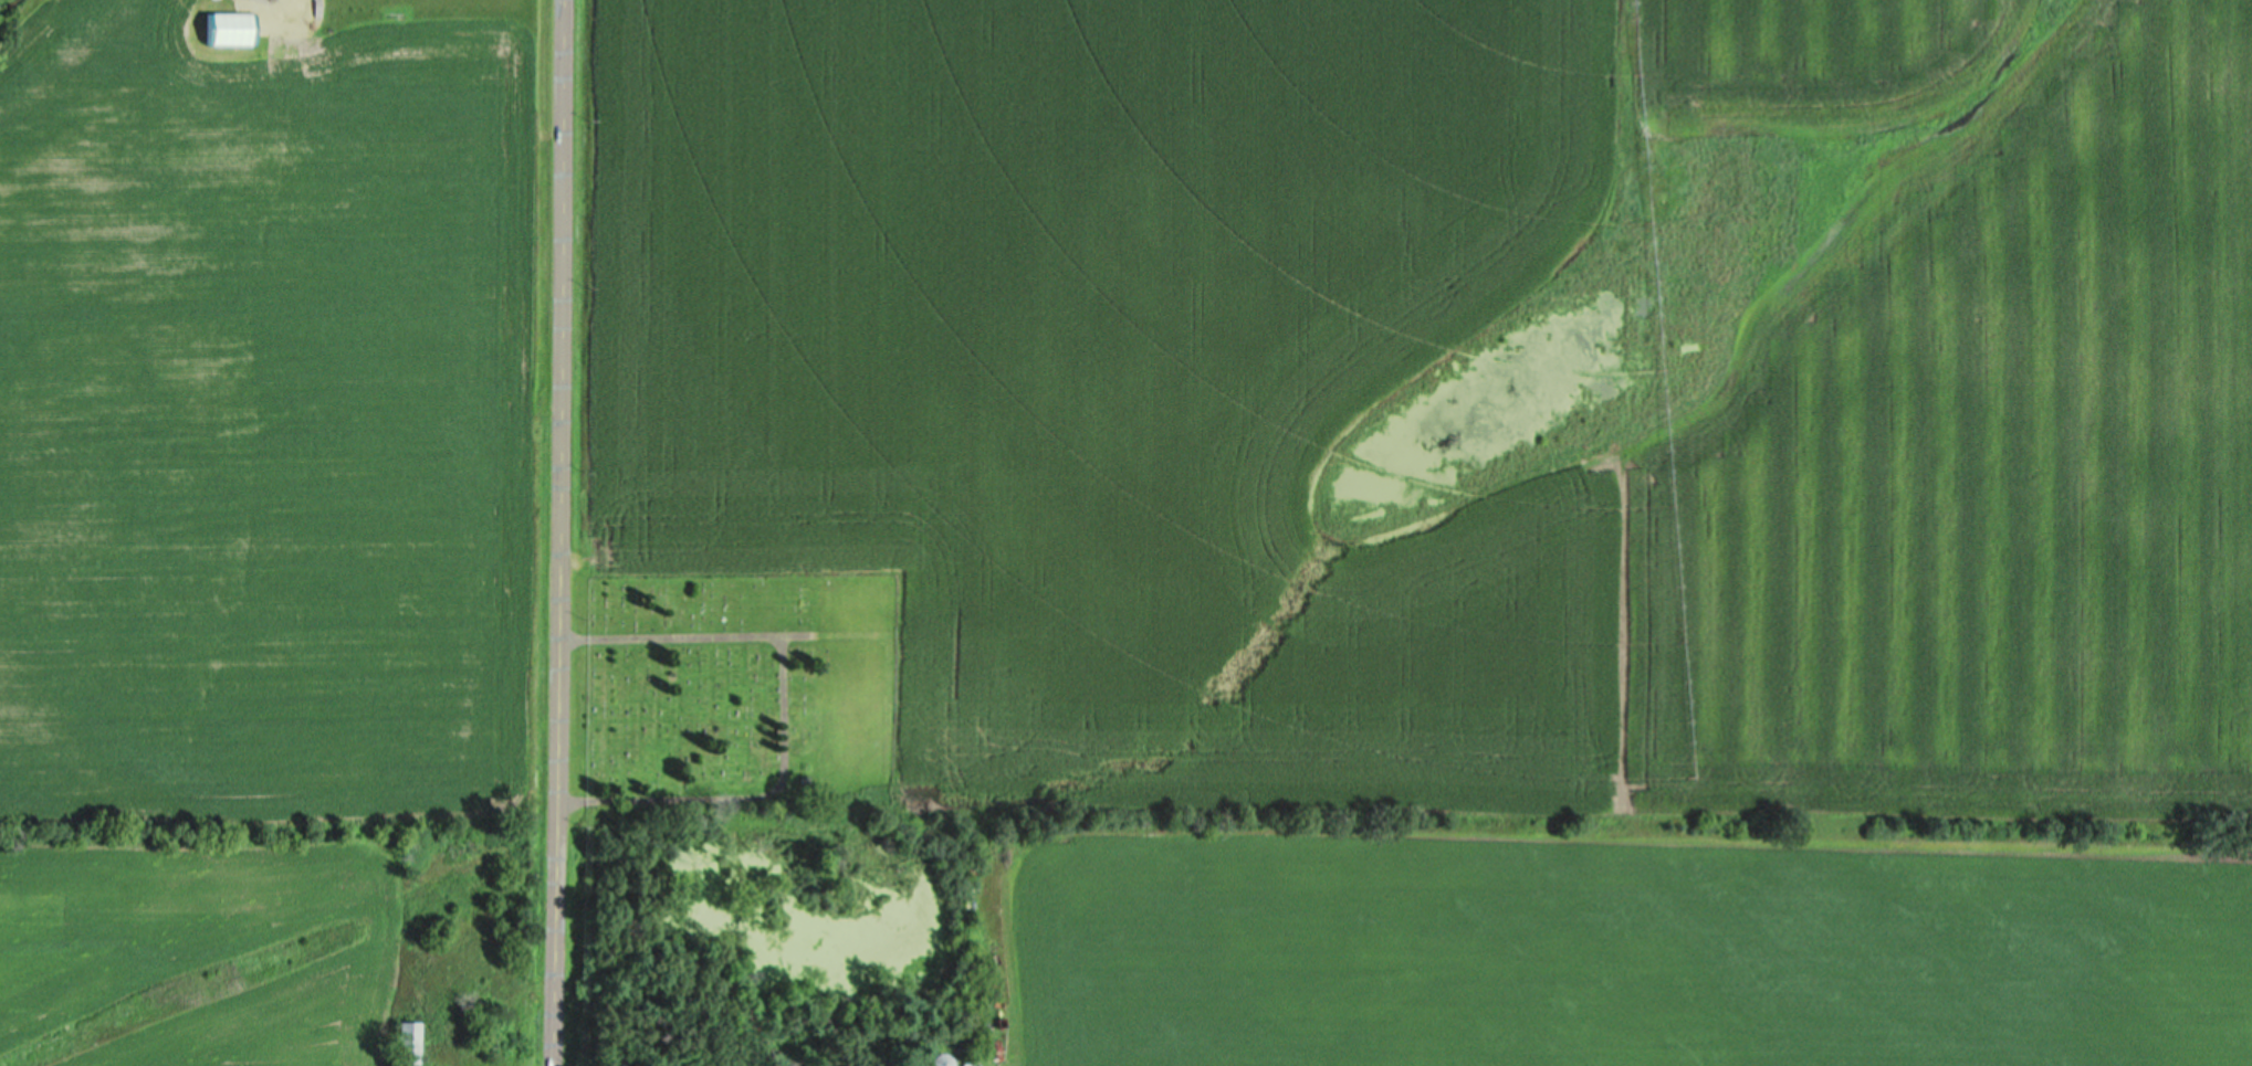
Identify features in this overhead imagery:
road: (563, 532)
road: (690, 636)
road: (750, 795)
building: (409, 1043)
building: (938, 1062)

